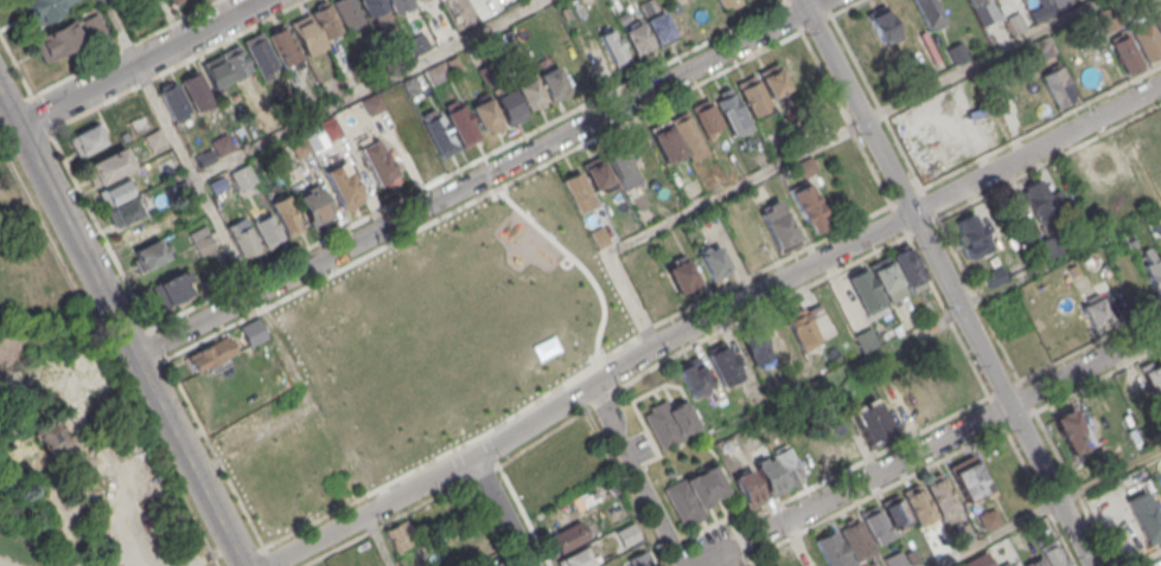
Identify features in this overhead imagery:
building: (171, 1)
building: (969, 1)
building: (722, 2)
building: (398, 4)
building: (372, 6)
building: (648, 6)
building: (49, 8)
building: (1134, 9)
building: (347, 12)
building: (929, 12)
building: (1110, 19)
building: (325, 22)
building: (1016, 22)
building: (1159, 22)
building: (91, 24)
building: (882, 25)
building: (661, 28)
building: (306, 36)
building: (638, 39)
building: (56, 40)
building: (1147, 41)
building: (504, 43)
building: (417, 44)
building: (282, 45)
building: (613, 47)
building: (1038, 50)
building: (955, 52)
building: (1125, 53)
building: (260, 54)
building: (237, 60)
road: (981, 60)
road: (141, 63)
building: (453, 64)
building: (216, 71)
building: (435, 72)
building: (772, 81)
building: (554, 83)
building: (1058, 84)
building: (409, 85)
road: (366, 89)
building: (196, 90)
building: (529, 94)
building: (752, 96)
building: (176, 103)
building: (372, 104)
building: (508, 104)
road: (9, 108)
building: (729, 111)
building: (400, 112)
building: (484, 114)
building: (704, 116)
building: (461, 124)
building: (332, 128)
building: (685, 131)
building: (439, 134)
building: (155, 139)
building: (87, 140)
building: (664, 140)
building: (222, 144)
building: (298, 146)
road: (1035, 149)
building: (205, 157)
building: (377, 161)
building: (108, 167)
building: (621, 167)
building: (805, 167)
building: (1104, 171)
building: (595, 173)
building: (243, 176)
road: (480, 178)
building: (218, 185)
building: (344, 185)
building: (579, 191)
building: (113, 193)
building: (1036, 200)
building: (313, 206)
building: (808, 208)
road: (685, 211)
building: (123, 212)
building: (286, 216)
building: (777, 226)
building: (267, 230)
building: (140, 231)
building: (968, 234)
building: (598, 236)
building: (242, 237)
building: (515, 242)
building: (204, 244)
building: (149, 255)
building: (714, 262)
road: (238, 265)
building: (906, 268)
building: (1071, 269)
building: (681, 275)
building: (991, 275)
building: (1154, 275)
building: (887, 279)
road: (946, 282)
road: (1006, 285)
building: (171, 289)
building: (646, 289)
building: (865, 290)
building: (1093, 309)
park: (451, 327)
road: (930, 327)
building: (802, 328)
building: (776, 333)
building: (865, 339)
road: (130, 346)
building: (754, 346)
building: (417, 349)
building: (210, 353)
building: (313, 361)
building: (723, 364)
building: (694, 377)
building: (1153, 377)
road: (587, 388)
road: (85, 399)
building: (921, 401)
building: (899, 412)
park: (76, 418)
building: (870, 422)
building: (669, 423)
road: (959, 430)
building: (1071, 431)
building: (51, 438)
road: (71, 456)
building: (789, 465)
road: (640, 475)
road: (1109, 475)
building: (770, 476)
building: (970, 481)
building: (747, 487)
building: (694, 491)
building: (940, 495)
building: (919, 506)
road: (502, 513)
building: (895, 513)
road: (122, 517)
building: (988, 519)
building: (1147, 522)
building: (875, 526)
building: (964, 529)
building: (627, 534)
road: (996, 534)
building: (398, 536)
building: (568, 536)
road: (379, 540)
building: (857, 540)
road: (72, 545)
building: (833, 549)
building: (1054, 553)
building: (809, 555)
building: (911, 555)
road: (122, 557)
road: (211, 558)
building: (575, 559)
building: (895, 559)
building: (1036, 562)
building: (496, 564)
building: (1008, 564)
building: (492, 565)

